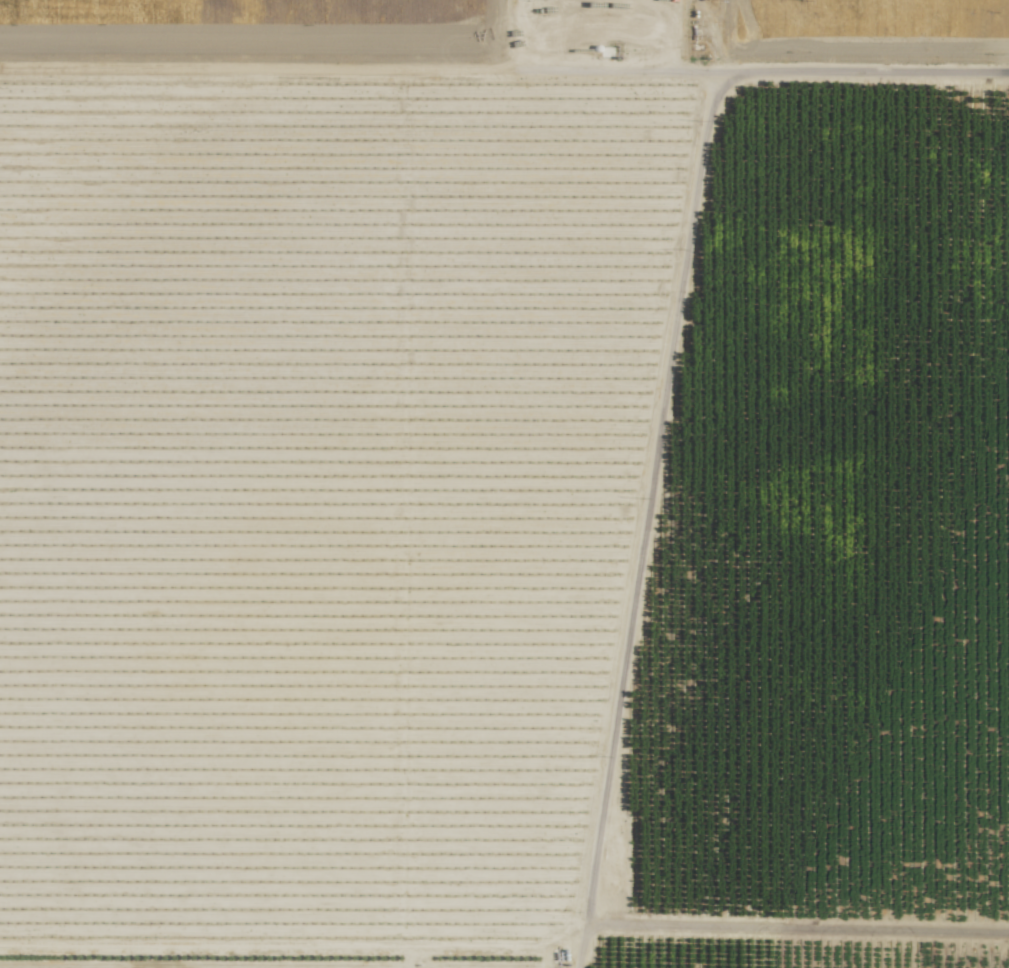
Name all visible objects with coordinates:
road: (504, 69)
crop: (332, 437)
road: (644, 521)

